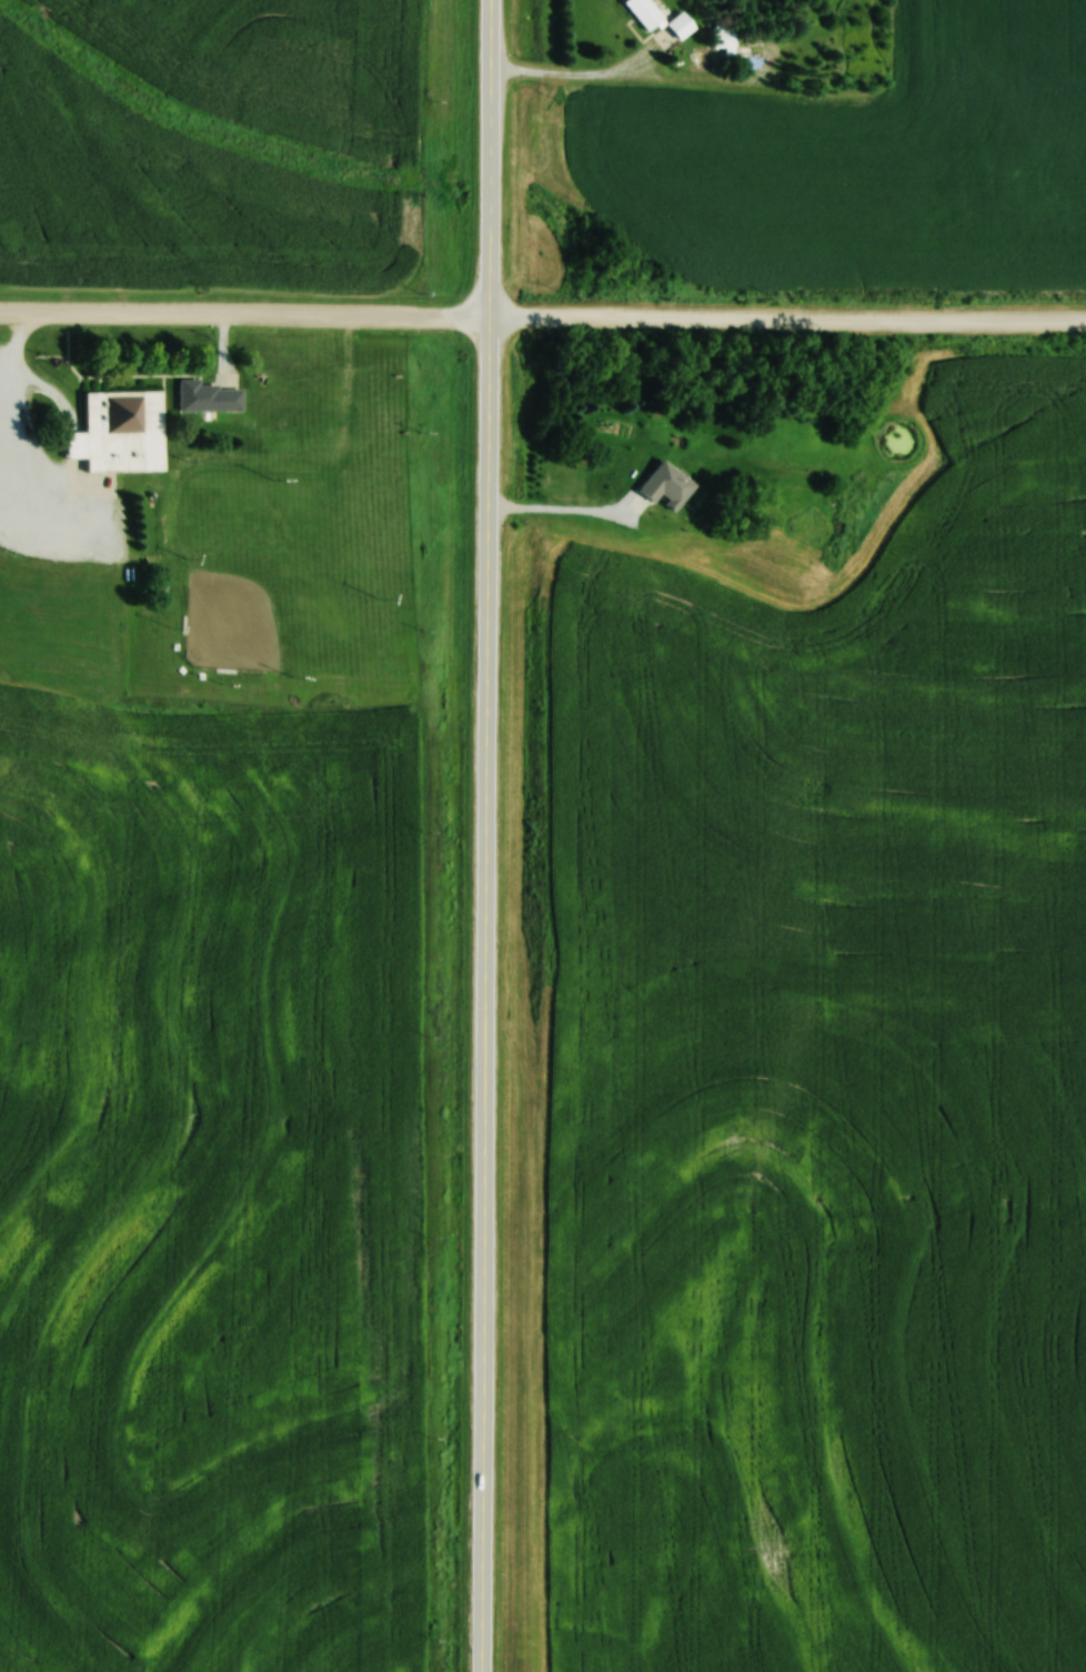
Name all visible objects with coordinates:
building: (647, 13)
building: (683, 26)
road: (542, 315)
building: (211, 396)
building: (122, 432)
building: (798, 434)
building: (621, 469)
building: (794, 523)
road: (486, 836)

